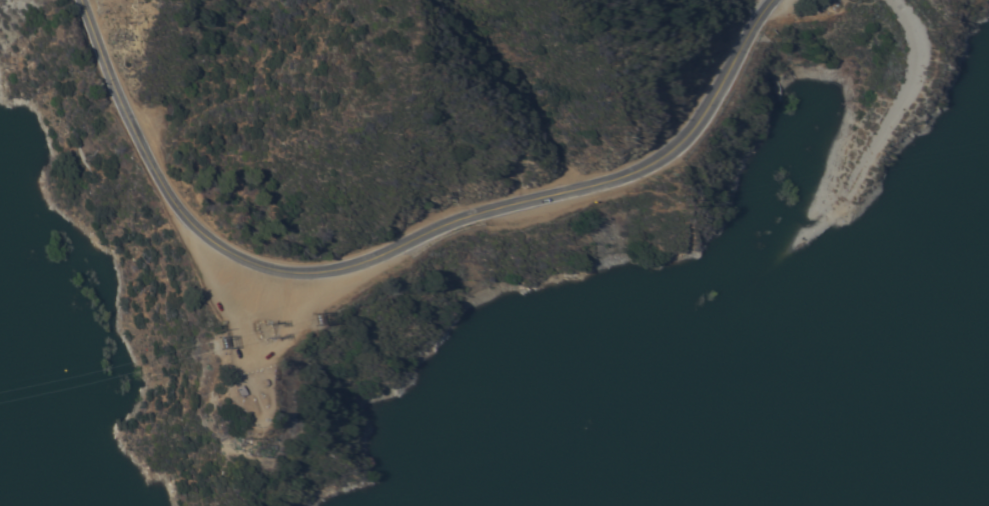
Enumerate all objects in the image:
road: (895, 107)
road: (395, 247)
parking lot: (268, 304)
river: (849, 315)
river: (863, 333)
river: (801, 357)
river: (63, 449)
river: (684, 471)

